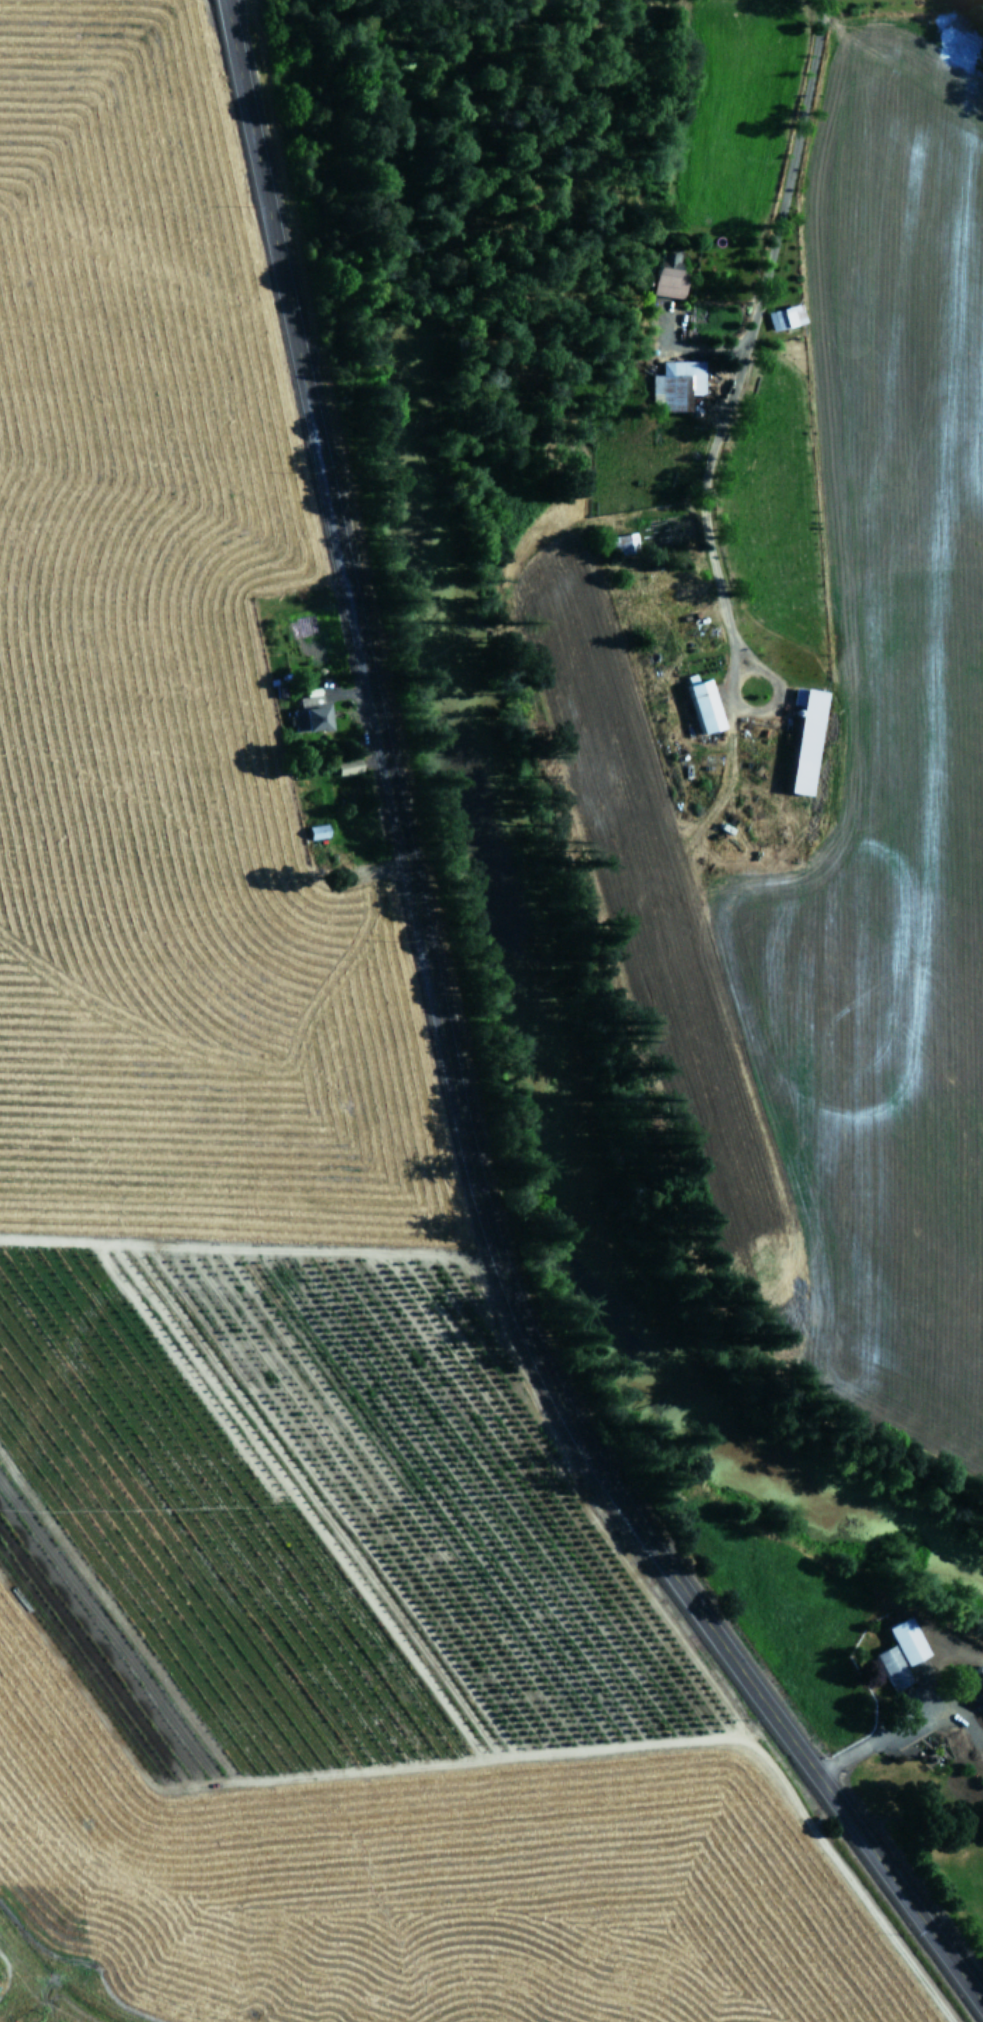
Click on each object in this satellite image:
road: (784, 208)
building: (783, 316)
building: (676, 384)
building: (623, 543)
crop: (800, 683)
building: (700, 706)
building: (309, 712)
building: (802, 740)
building: (345, 767)
building: (315, 831)
road: (447, 1069)
crop: (327, 1296)
building: (897, 1652)
building: (975, 1686)
road: (881, 1733)

